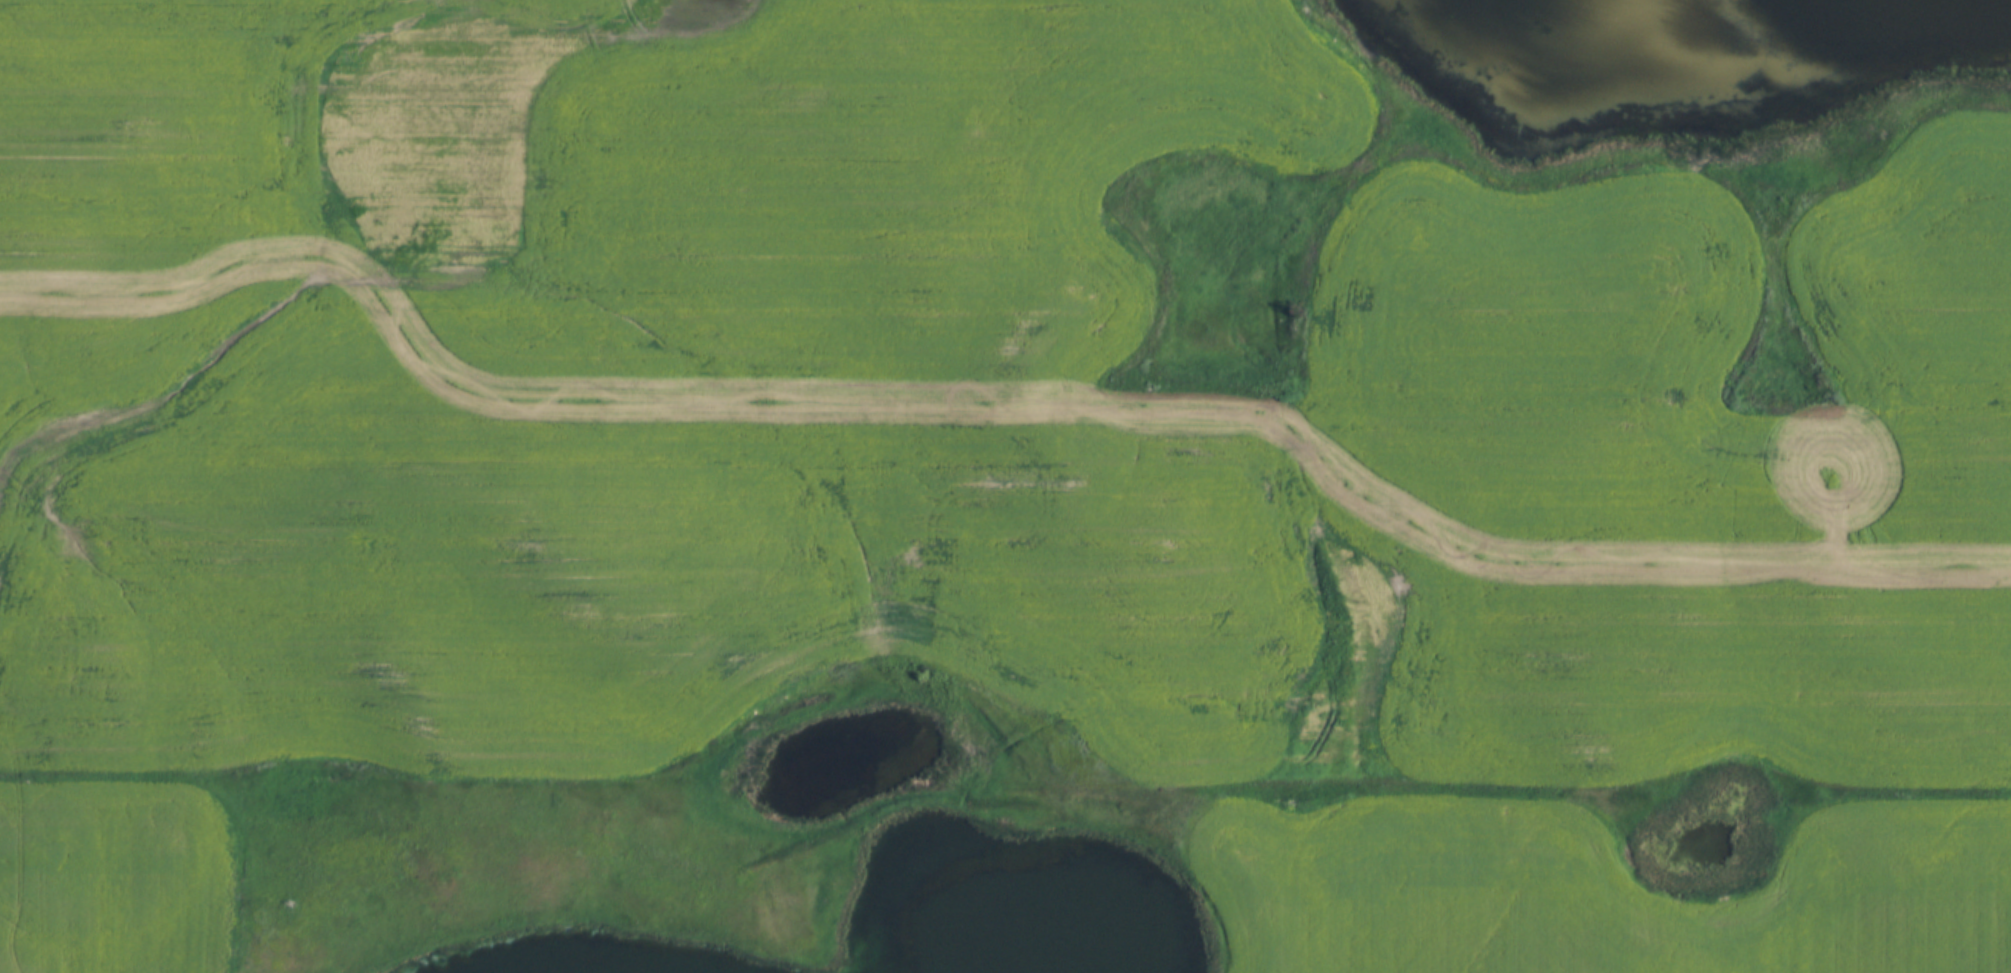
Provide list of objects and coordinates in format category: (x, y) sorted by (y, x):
wind turbine: (1831, 473)

